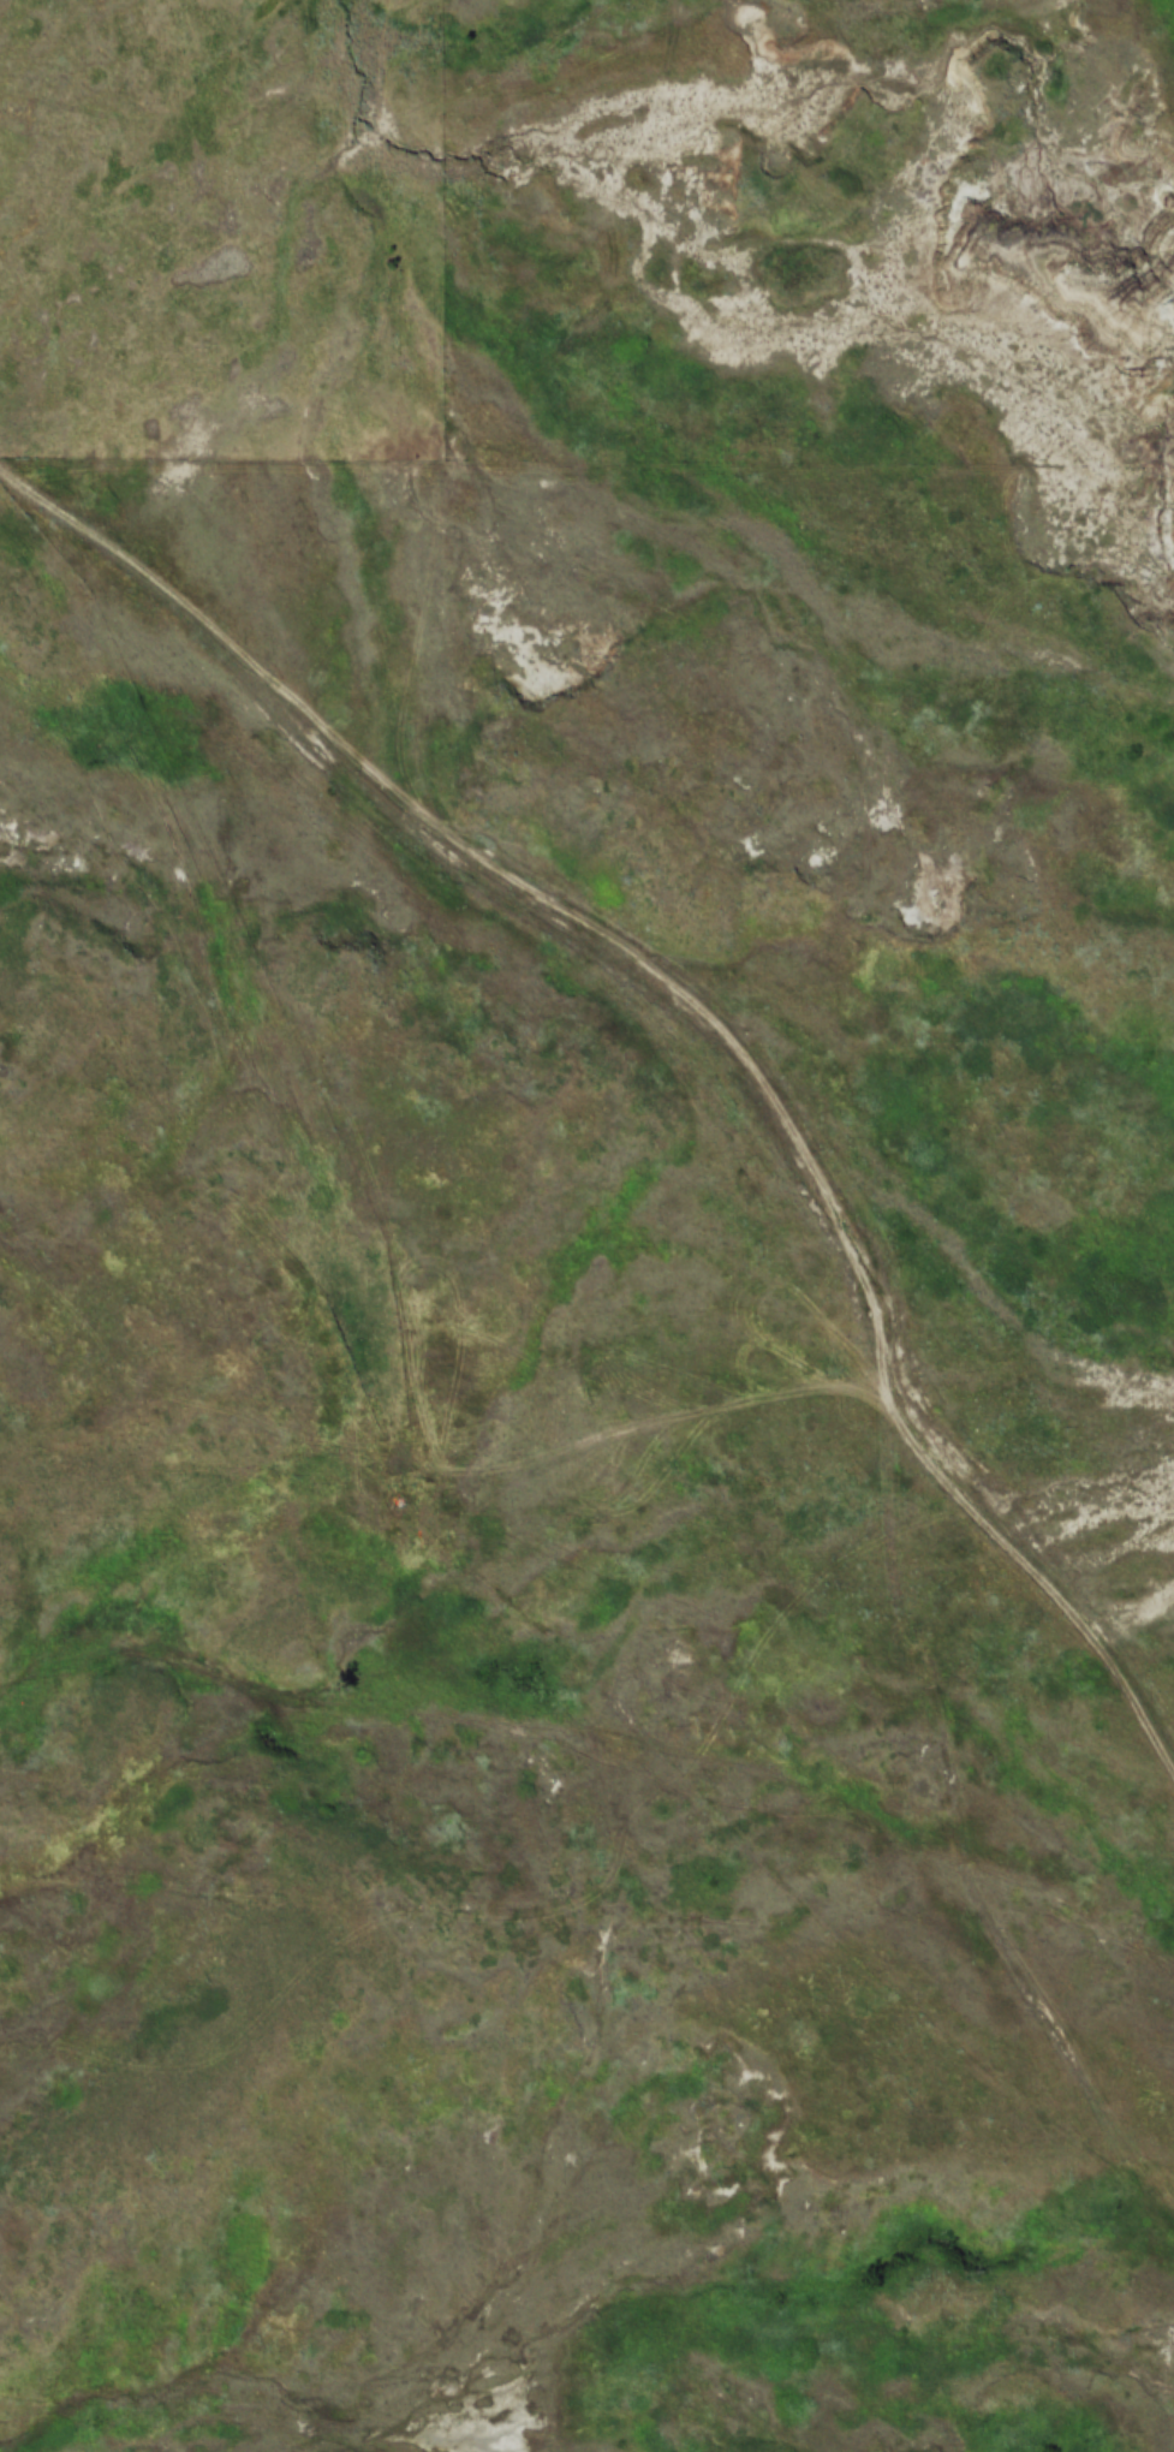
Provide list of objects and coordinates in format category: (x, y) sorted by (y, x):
road: (697, 1010)
road: (959, 1789)
road: (791, 1886)

